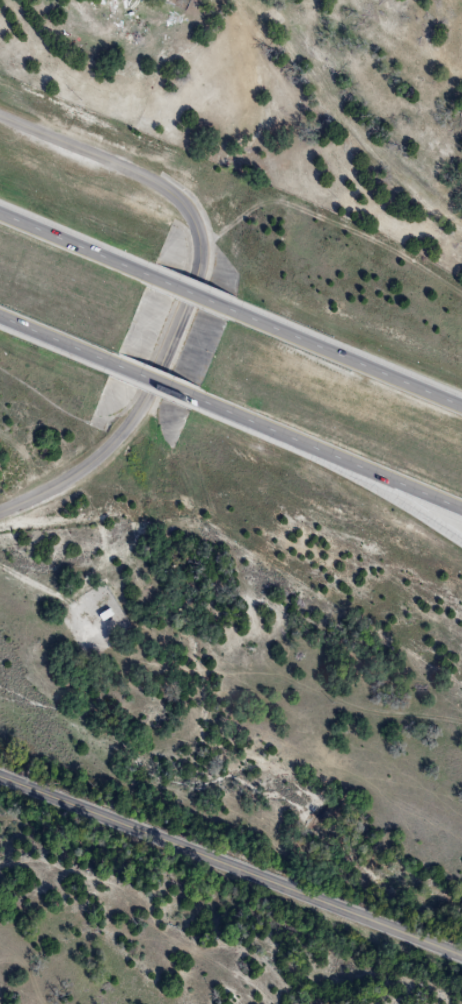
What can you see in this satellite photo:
road: (75, 240)
road: (191, 289)
road: (191, 294)
road: (55, 340)
road: (347, 355)
road: (157, 381)
road: (255, 420)
road: (384, 474)
road: (382, 493)
road: (231, 865)

